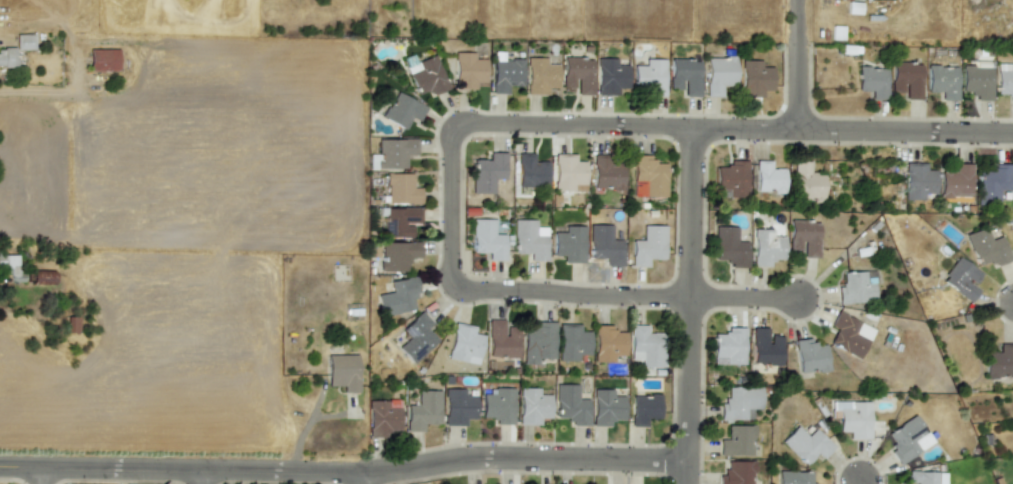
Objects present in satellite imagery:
building: (24, 41)
building: (7, 58)
building: (103, 59)
road: (69, 60)
road: (795, 65)
building: (468, 70)
building: (578, 74)
building: (718, 74)
building: (506, 75)
building: (540, 75)
building: (610, 76)
building: (684, 76)
building: (428, 77)
building: (649, 77)
building: (754, 78)
building: (906, 79)
building: (1005, 80)
building: (872, 81)
building: (943, 81)
building: (977, 81)
building: (402, 110)
road: (731, 128)
building: (392, 153)
building: (531, 171)
building: (487, 172)
building: (567, 172)
building: (605, 174)
building: (648, 177)
building: (768, 177)
building: (732, 178)
building: (918, 181)
building: (956, 181)
building: (806, 183)
building: (992, 183)
building: (401, 189)
power tower: (890, 191)
building: (399, 221)
building: (804, 237)
building: (487, 239)
building: (529, 239)
building: (569, 244)
building: (604, 245)
building: (648, 246)
building: (729, 247)
building: (766, 247)
building: (987, 247)
building: (398, 255)
building: (11, 263)
building: (41, 276)
building: (961, 279)
building: (856, 287)
road: (486, 290)
building: (398, 297)
road: (742, 297)
road: (688, 305)
building: (849, 335)
building: (417, 337)
building: (501, 339)
building: (537, 342)
building: (571, 342)
building: (608, 342)
building: (464, 344)
building: (645, 346)
building: (728, 346)
building: (765, 347)
building: (810, 356)
building: (999, 362)
building: (342, 372)
building: (740, 403)
building: (498, 405)
building: (570, 405)
building: (532, 406)
building: (458, 407)
building: (606, 407)
building: (643, 408)
building: (424, 410)
building: (383, 417)
building: (852, 418)
building: (908, 439)
building: (737, 441)
building: (806, 444)
road: (343, 469)
building: (737, 473)
road: (41, 474)
road: (199, 475)
road: (362, 477)
building: (794, 477)
building: (925, 477)
road: (859, 483)

